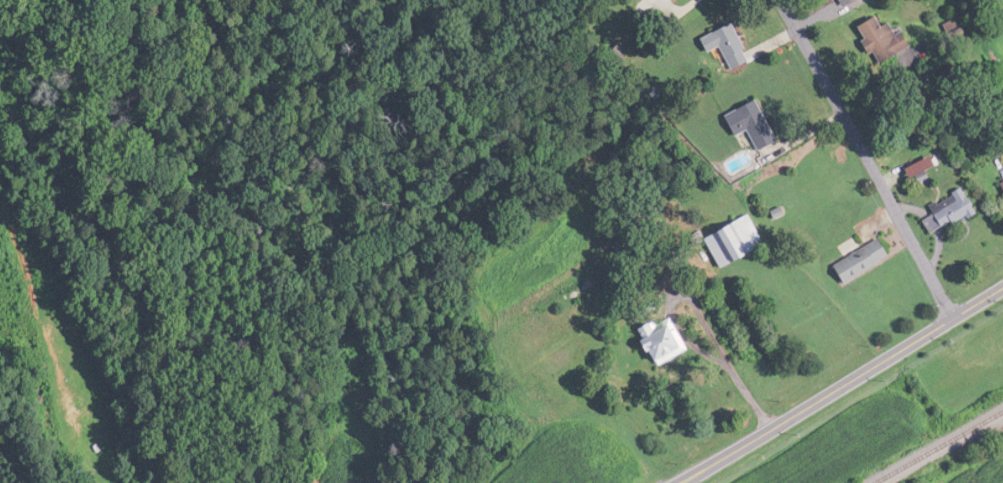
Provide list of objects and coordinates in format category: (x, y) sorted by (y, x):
building: (850, 1)
building: (893, 40)
building: (737, 47)
building: (755, 120)
road: (862, 149)
building: (934, 170)
building: (959, 210)
building: (746, 242)
building: (869, 261)
building: (673, 342)
road: (842, 385)
road: (739, 386)
railway: (938, 446)

